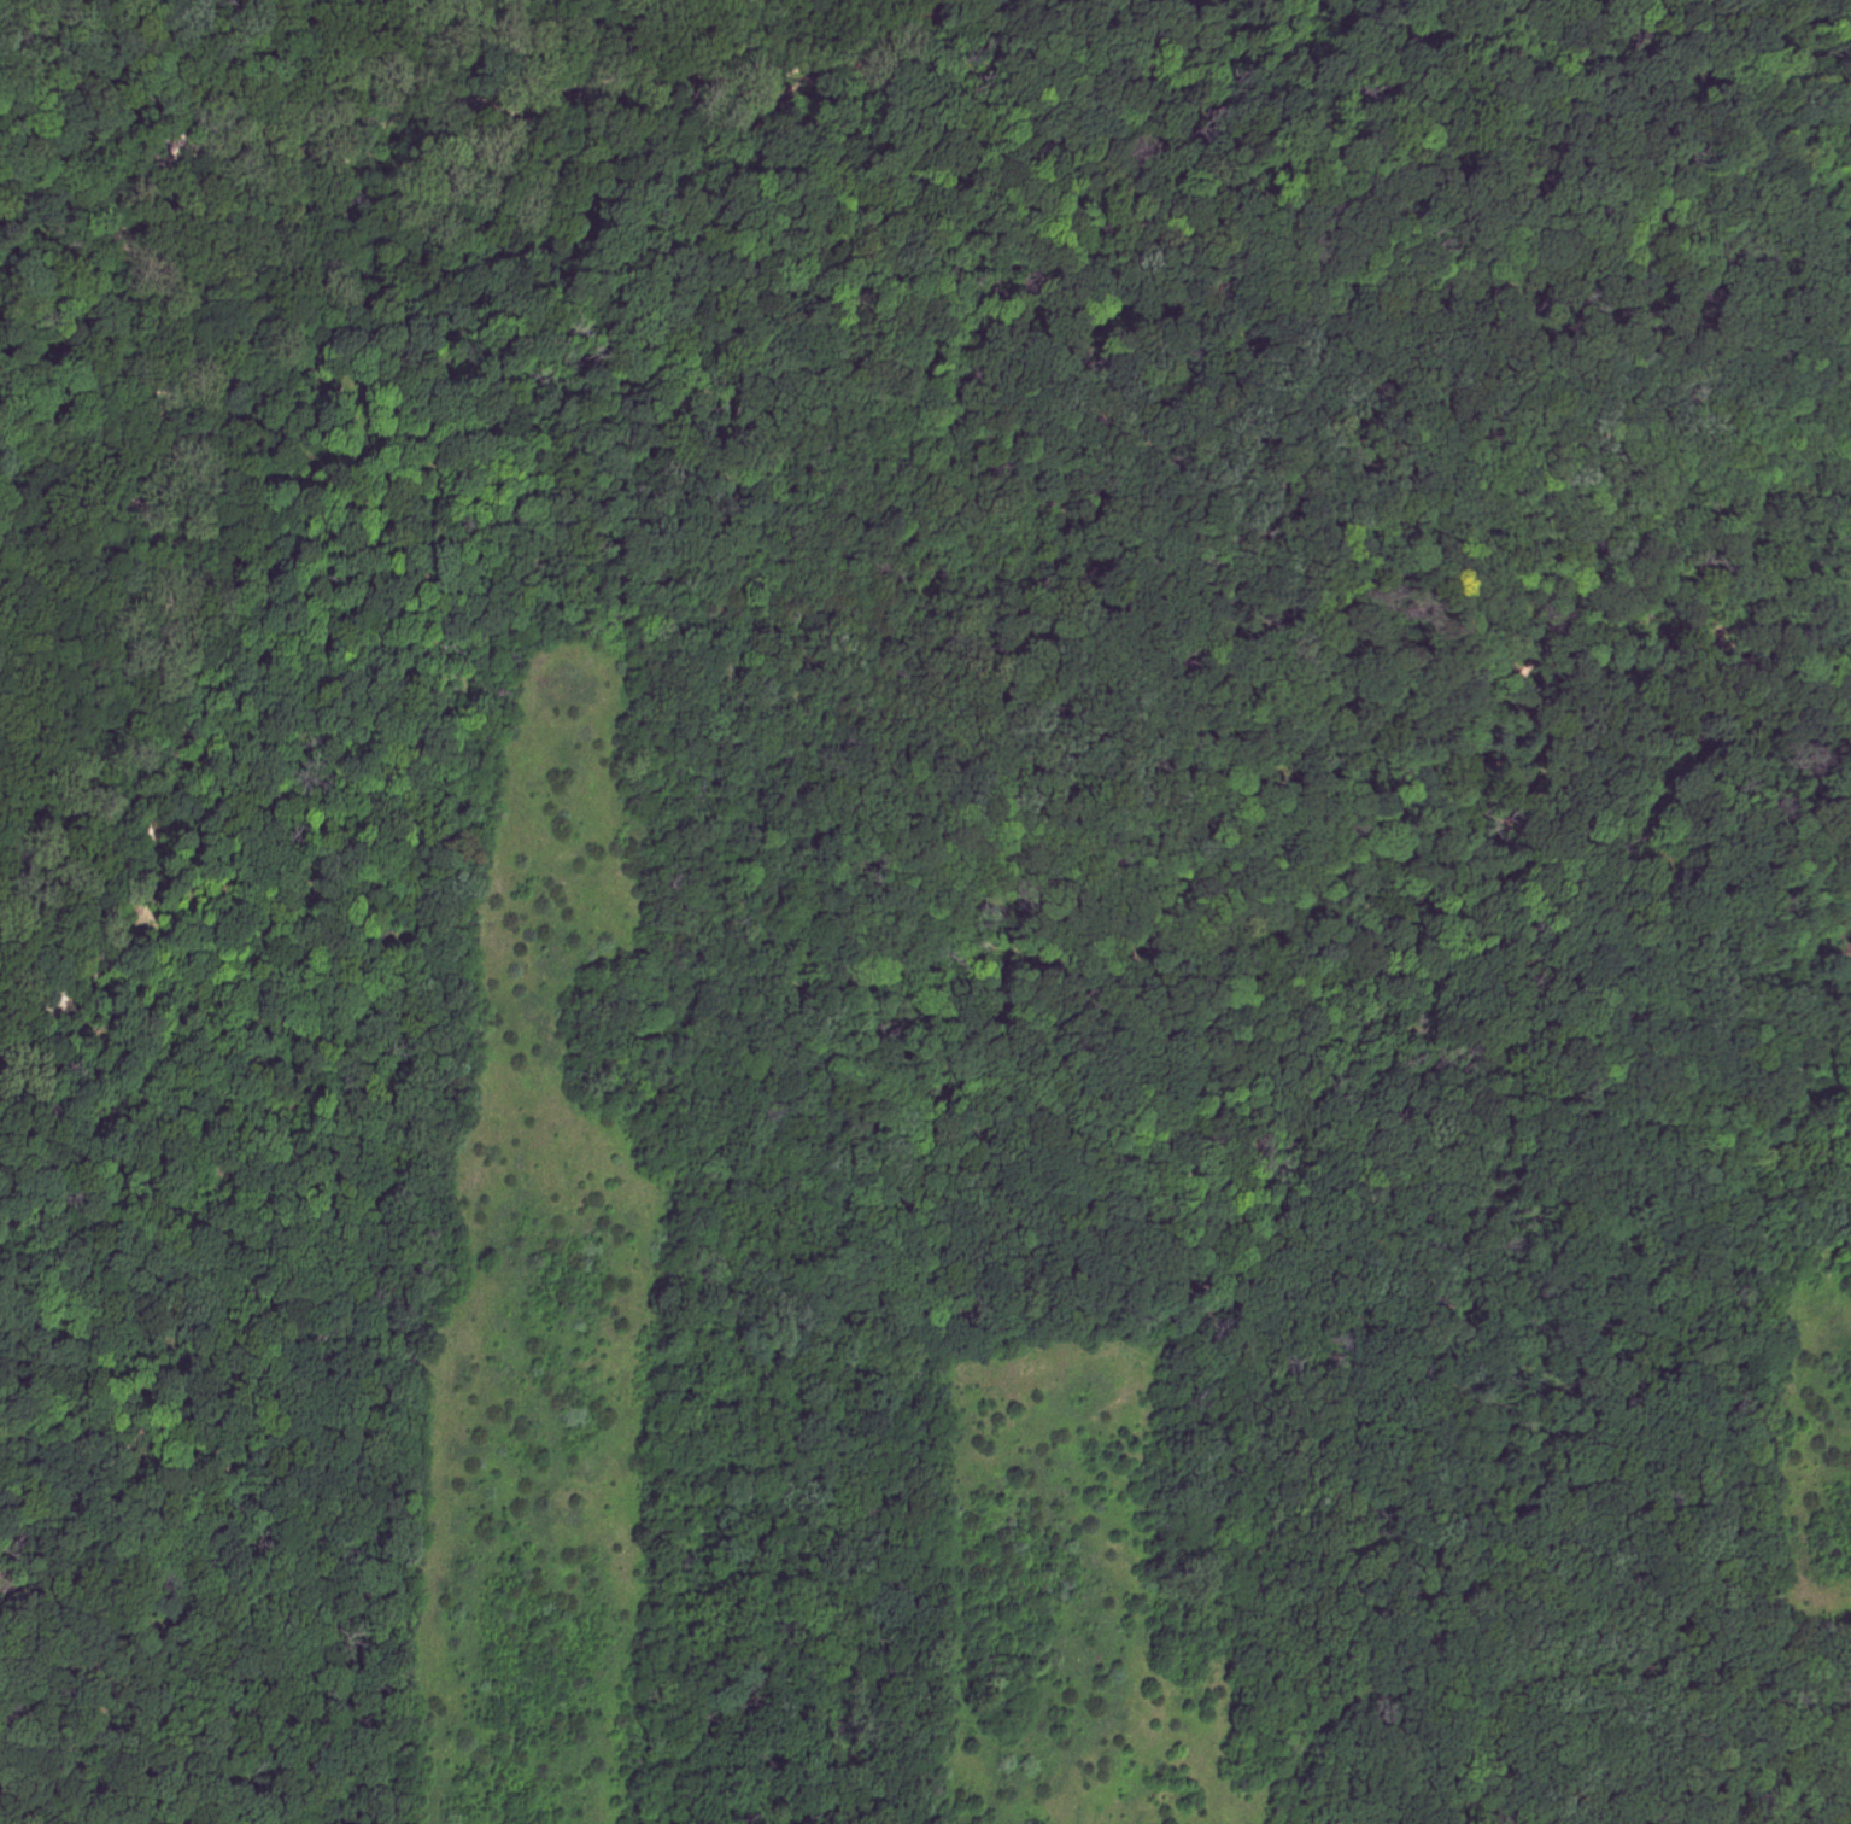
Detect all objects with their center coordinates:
road: (300, 186)
road: (1792, 245)
park: (925, 912)
road: (1820, 1794)

